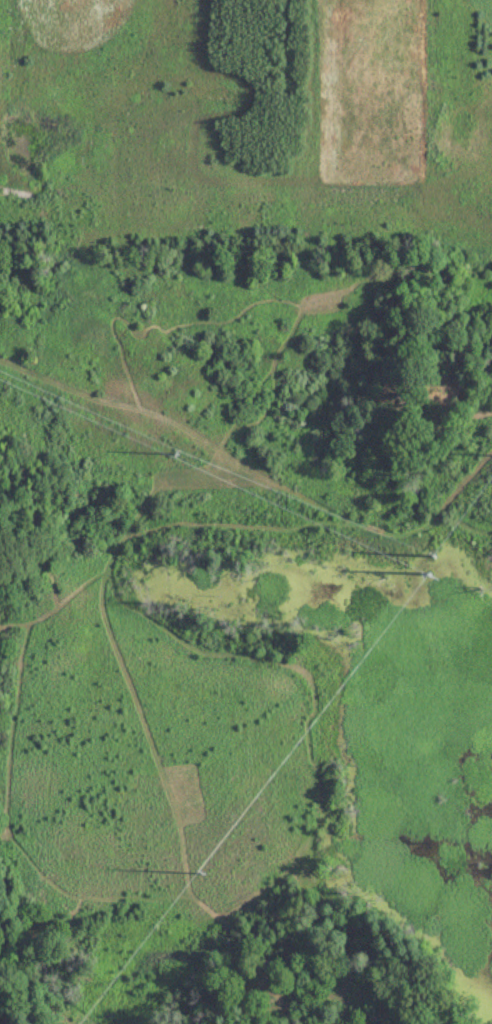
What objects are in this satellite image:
power tower: (175, 455)
power tower: (435, 557)
power tower: (424, 574)
power tower: (204, 873)

